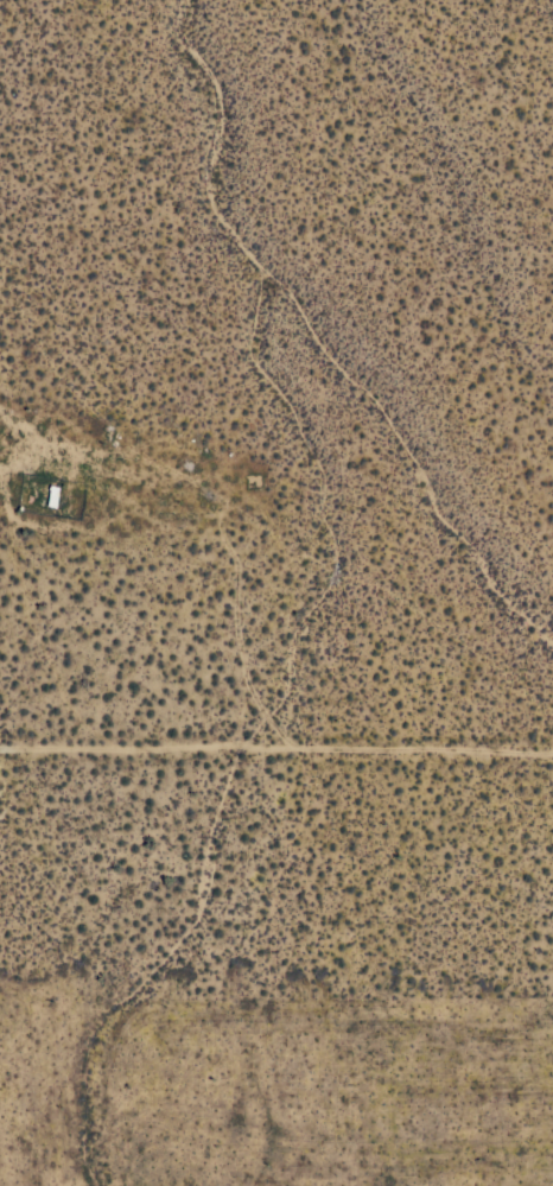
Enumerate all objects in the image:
road: (23, 445)
road: (276, 744)

